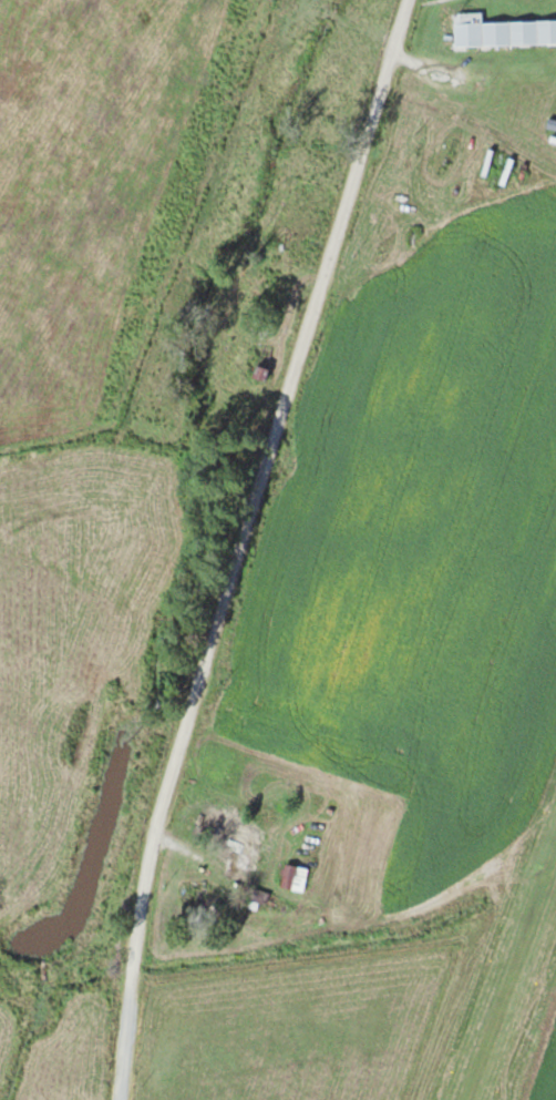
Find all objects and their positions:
building: (505, 31)
airport: (473, 121)
building: (256, 369)
road: (239, 544)
building: (240, 837)
building: (299, 877)
airport: (501, 948)
airport runway: (513, 982)

